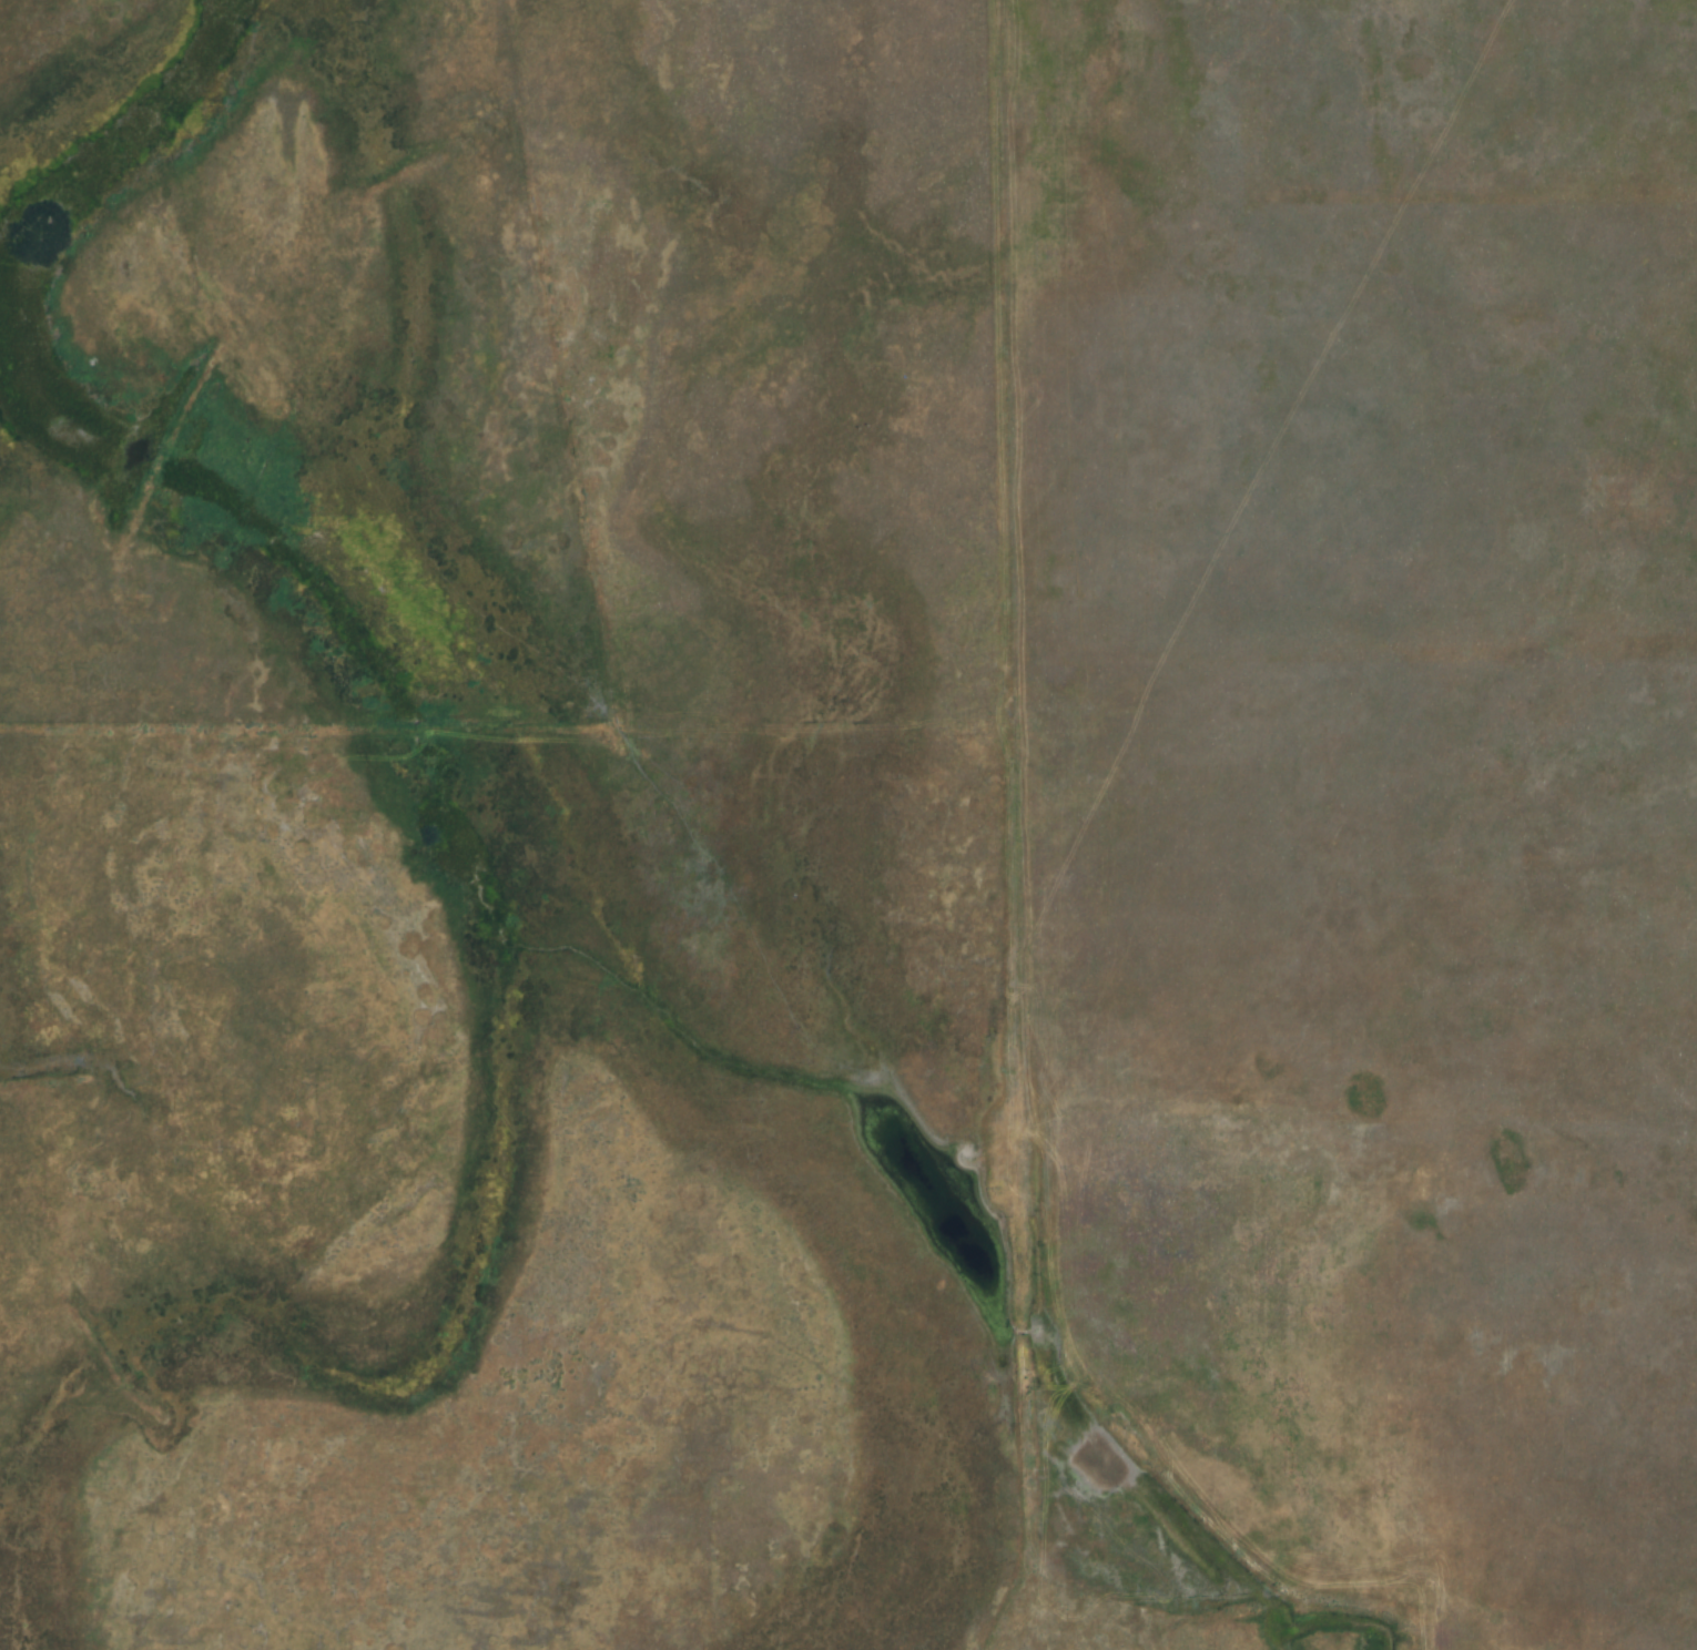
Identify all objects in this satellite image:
crop: (642, 335)
crop: (1369, 777)

